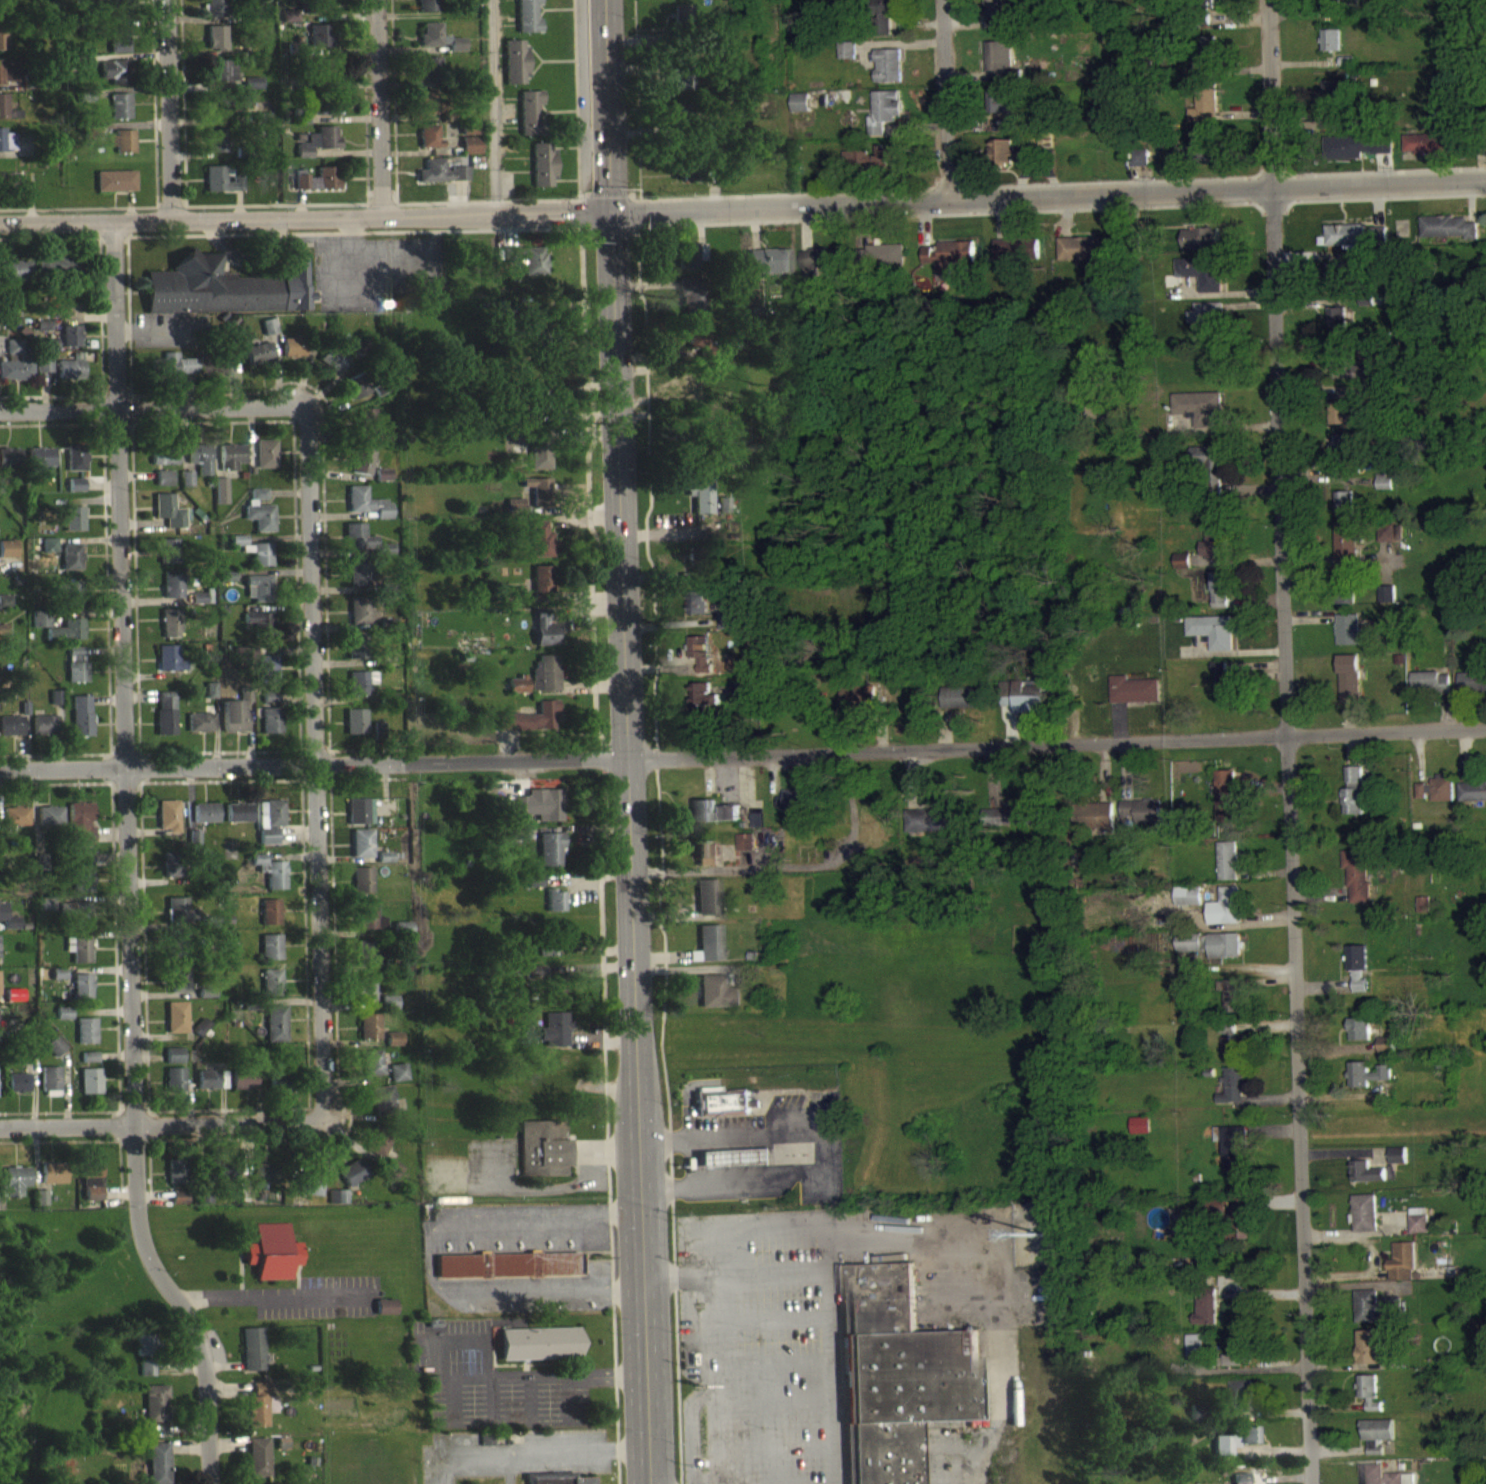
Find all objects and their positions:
building: (680, 1)
building: (90, 4)
building: (1212, 8)
building: (119, 9)
building: (427, 10)
building: (319, 11)
building: (1, 12)
building: (214, 13)
building: (886, 13)
building: (1334, 13)
building: (527, 20)
building: (994, 22)
building: (681, 24)
building: (289, 25)
building: (320, 45)
building: (2, 46)
building: (117, 46)
building: (215, 46)
building: (439, 47)
building: (1332, 49)
building: (1002, 70)
building: (81, 71)
building: (515, 71)
building: (885, 75)
building: (324, 77)
building: (429, 78)
building: (9, 80)
building: (114, 80)
building: (223, 80)
building: (251, 92)
road: (948, 100)
building: (1336, 101)
road: (492, 107)
road: (371, 109)
road: (169, 110)
building: (425, 111)
building: (800, 112)
building: (1206, 112)
building: (1004, 113)
building: (119, 115)
building: (217, 115)
building: (327, 116)
building: (882, 121)
building: (530, 122)
building: (261, 126)
building: (429, 145)
building: (6, 149)
building: (215, 149)
building: (121, 150)
building: (318, 150)
building: (1427, 152)
building: (470, 154)
building: (1359, 155)
building: (1200, 157)
building: (1012, 159)
building: (1141, 167)
building: (881, 168)
building: (542, 173)
building: (440, 181)
building: (221, 188)
building: (318, 188)
building: (8, 189)
building: (115, 189)
road: (1048, 196)
traffic signals: (611, 210)
road: (305, 219)
road: (49, 235)
building: (1449, 236)
building: (1343, 245)
building: (1379, 245)
building: (1201, 247)
building: (1085, 258)
building: (1017, 259)
building: (691, 264)
building: (949, 264)
building: (883, 265)
building: (529, 268)
building: (820, 269)
building: (768, 270)
building: (56, 274)
building: (14, 279)
building: (1202, 281)
building: (1340, 285)
building: (226, 296)
building: (692, 303)
building: (1337, 328)
building: (1206, 329)
building: (70, 344)
building: (697, 344)
building: (293, 356)
building: (358, 356)
building: (259, 363)
building: (332, 369)
building: (15, 371)
building: (43, 373)
building: (176, 373)
building: (67, 378)
building: (1339, 378)
building: (355, 395)
road: (152, 408)
building: (1198, 416)
building: (1341, 421)
building: (365, 427)
building: (1340, 455)
building: (266, 463)
building: (163, 464)
building: (230, 465)
building: (1208, 465)
building: (9, 466)
building: (40, 466)
building: (76, 466)
building: (200, 467)
building: (541, 467)
building: (362, 471)
building: (382, 484)
building: (163, 487)
building: (186, 487)
building: (1384, 491)
building: (75, 494)
building: (221, 499)
building: (540, 500)
building: (258, 502)
building: (700, 504)
building: (367, 512)
building: (1344, 513)
building: (516, 514)
building: (723, 514)
building: (169, 520)
building: (260, 524)
building: (73, 527)
building: (1345, 548)
building: (362, 549)
building: (542, 549)
building: (1214, 551)
building: (49, 553)
building: (7, 557)
building: (168, 560)
building: (254, 560)
building: (71, 565)
building: (1182, 570)
building: (359, 581)
building: (543, 592)
building: (173, 595)
building: (1346, 596)
building: (259, 597)
building: (1221, 599)
building: (71, 601)
building: (1387, 602)
building: (201, 606)
building: (5, 610)
building: (697, 612)
building: (361, 621)
building: (40, 628)
building: (258, 630)
building: (725, 631)
building: (170, 633)
building: (545, 638)
building: (1348, 638)
building: (3, 639)
building: (66, 639)
building: (1213, 641)
building: (356, 656)
building: (697, 656)
building: (76, 663)
building: (169, 668)
building: (703, 675)
building: (267, 679)
building: (77, 680)
building: (546, 683)
building: (1349, 685)
building: (1473, 689)
building: (1431, 690)
building: (1222, 691)
building: (361, 692)
building: (517, 693)
building: (210, 699)
building: (1134, 699)
building: (703, 704)
building: (270, 705)
building: (960, 706)
building: (1027, 708)
building: (859, 709)
building: (166, 723)
building: (81, 725)
building: (233, 725)
building: (532, 727)
building: (271, 730)
building: (356, 731)
building: (200, 732)
building: (11, 734)
building: (45, 734)
building: (378, 738)
road: (615, 742)
road: (1287, 742)
road: (313, 763)
road: (743, 763)
building: (1437, 798)
building: (1473, 800)
building: (1354, 801)
building: (1225, 805)
building: (520, 814)
building: (552, 814)
building: (360, 820)
building: (238, 821)
building: (715, 821)
building: (1141, 821)
building: (205, 822)
building: (49, 824)
building: (15, 825)
building: (168, 825)
building: (1094, 825)
building: (1006, 826)
building: (755, 829)
building: (270, 830)
building: (81, 832)
building: (193, 846)
building: (362, 852)
building: (744, 852)
building: (550, 858)
road: (127, 862)
building: (704, 862)
building: (384, 865)
building: (1228, 870)
building: (173, 874)
building: (81, 881)
building: (270, 881)
building: (1357, 884)
building: (535, 888)
building: (362, 889)
building: (1188, 905)
building: (707, 906)
building: (556, 910)
building: (44, 912)
building: (1230, 914)
building: (1424, 914)
building: (179, 921)
building: (270, 921)
building: (7, 927)
building: (369, 927)
building: (558, 933)
building: (710, 952)
building: (270, 956)
building: (174, 957)
building: (78, 958)
building: (549, 958)
building: (366, 961)
building: (1359, 976)
building: (57, 982)
building: (178, 989)
building: (271, 991)
building: (548, 992)
building: (81, 995)
building: (365, 998)
building: (714, 1001)
building: (1233, 1003)
building: (14, 1004)
building: (62, 1022)
building: (176, 1026)
building: (275, 1032)
building: (199, 1036)
building: (369, 1036)
building: (1360, 1038)
building: (85, 1039)
building: (555, 1039)
building: (394, 1048)
building: (1233, 1050)
building: (1386, 1053)
building: (54, 1055)
building: (173, 1064)
building: (89, 1066)
building: (372, 1072)
building: (398, 1082)
building: (1368, 1083)
building: (277, 1088)
building: (174, 1089)
building: (210, 1089)
building: (243, 1089)
building: (50, 1090)
building: (90, 1090)
building: (17, 1092)
building: (1233, 1095)
building: (385, 1109)
building: (721, 1111)
road: (164, 1125)
building: (1140, 1134)
road: (817, 1153)
building: (378, 1155)
building: (545, 1158)
building: (1236, 1160)
road: (691, 1161)
building: (1399, 1164)
building: (735, 1167)
building: (175, 1180)
building: (352, 1181)
building: (1371, 1181)
building: (52, 1182)
building: (264, 1183)
building: (15, 1189)
building: (91, 1189)
building: (310, 1194)
building: (40, 1206)
building: (178, 1206)
building: (337, 1206)
building: (1366, 1222)
building: (1419, 1229)
building: (272, 1261)
building: (1403, 1271)
building: (509, 1274)
road: (271, 1296)
building: (385, 1316)
building: (1375, 1316)
building: (1206, 1318)
road: (738, 1332)
building: (541, 1352)
building: (144, 1353)
building: (1195, 1353)
building: (1370, 1356)
building: (252, 1358)
building: (1239, 1361)
building: (146, 1376)
road: (473, 1378)
building: (898, 1381)
building: (1370, 1401)
building: (1241, 1405)
building: (155, 1413)
building: (259, 1414)
building: (1378, 1443)
building: (1246, 1444)
building: (1222, 1454)
road: (529, 1455)
building: (257, 1465)
building: (157, 1468)
building: (1374, 1478)
building: (542, 1483)
building: (1241, 1483)
building: (1410, 1483)

